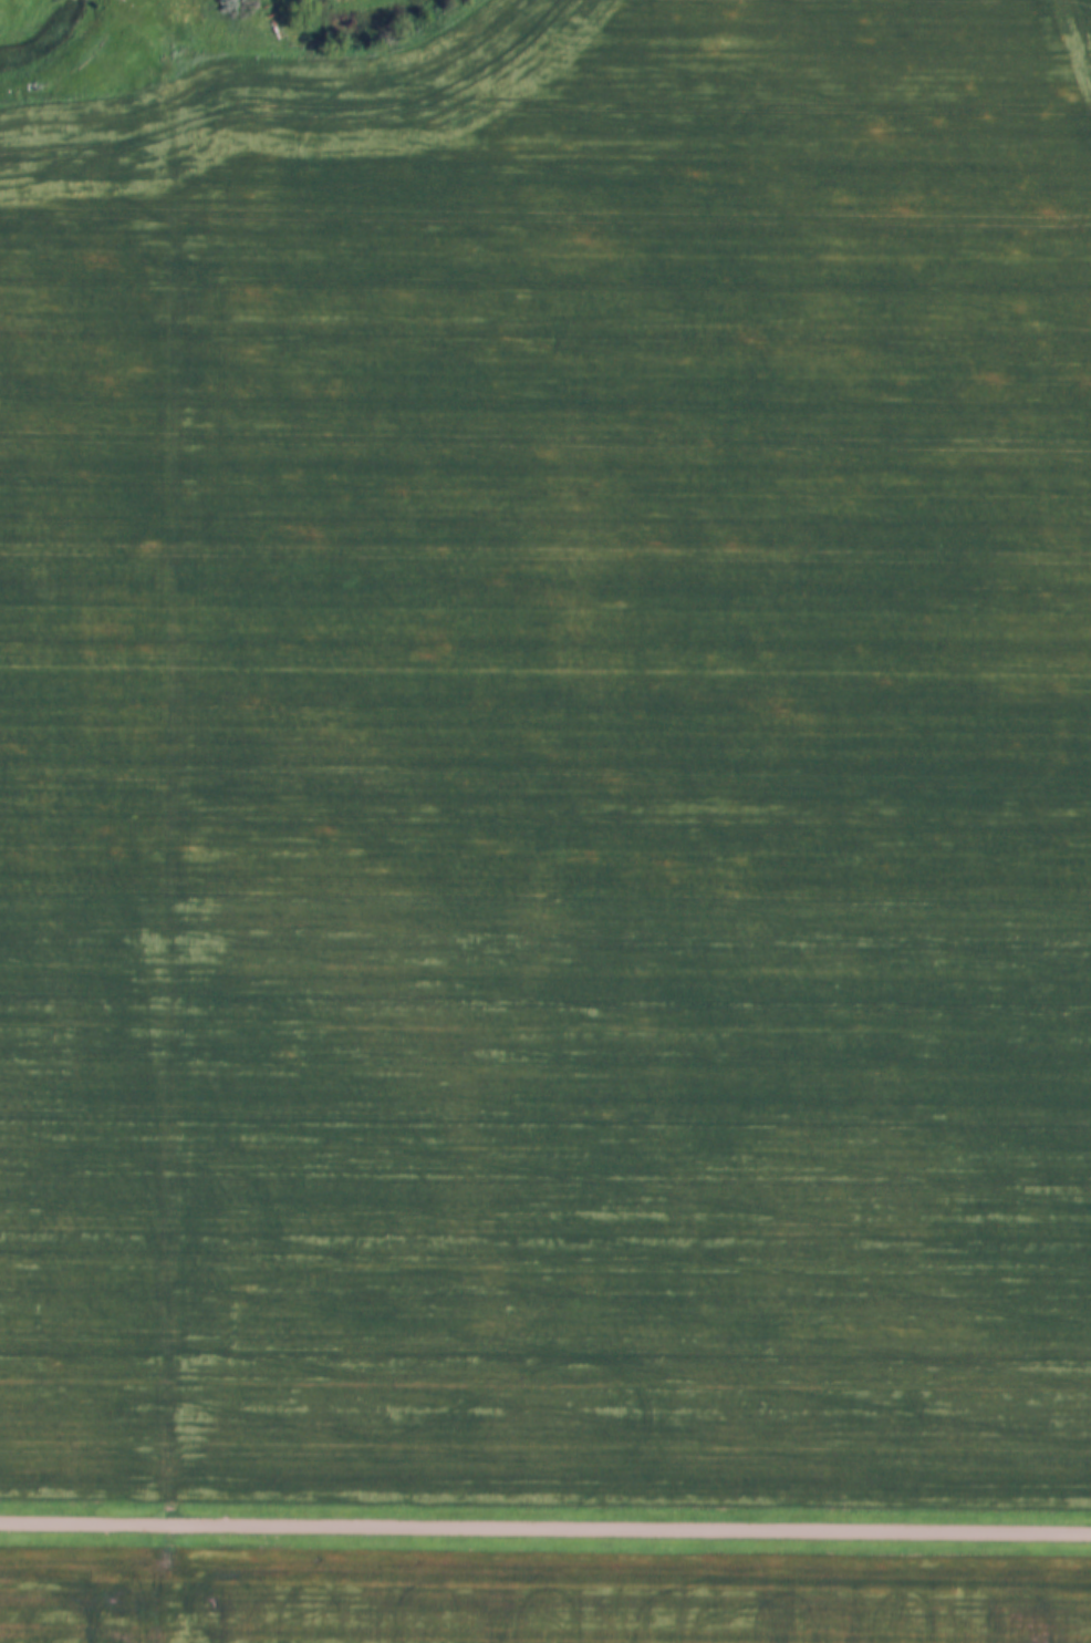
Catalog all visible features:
road: (545, 1530)

